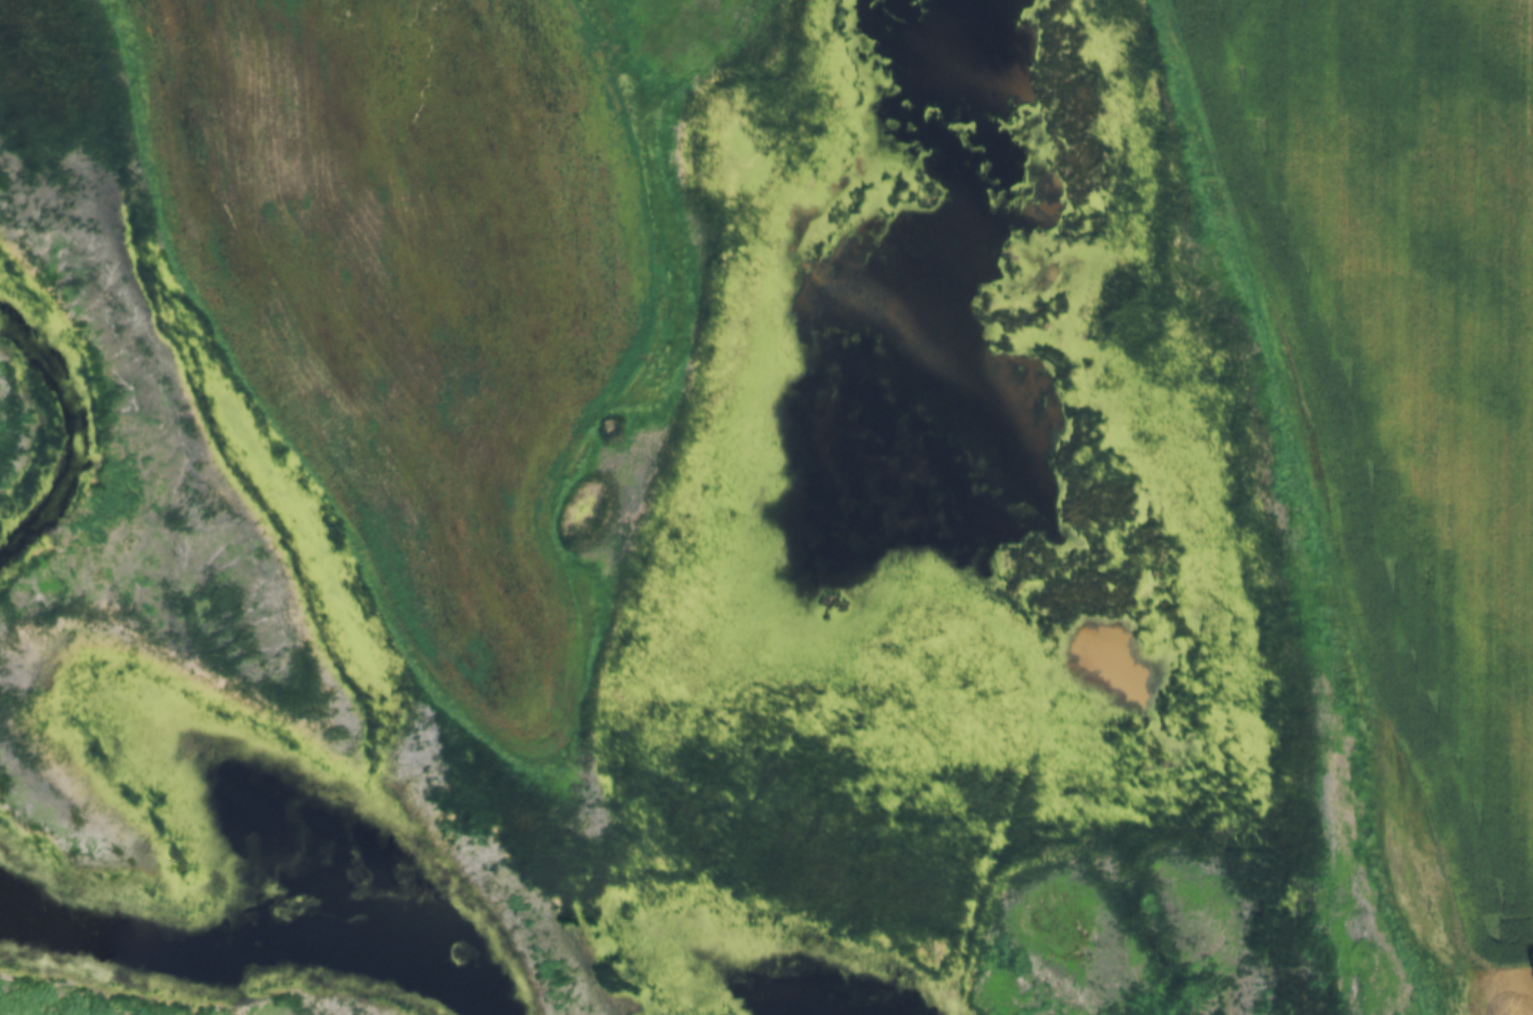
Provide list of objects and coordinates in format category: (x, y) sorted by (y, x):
river: (68, 422)
river: (254, 923)
river: (849, 1012)

